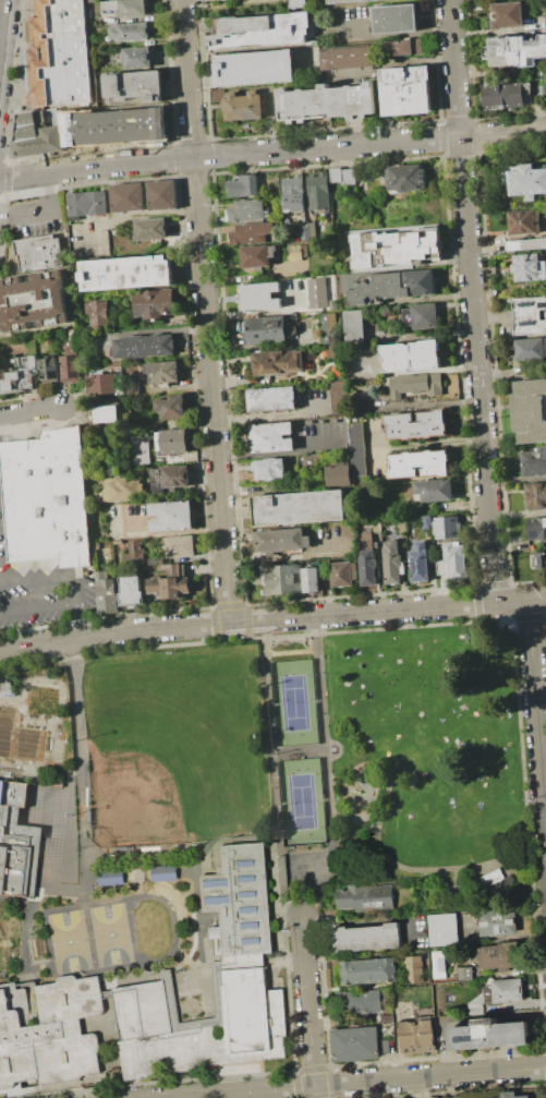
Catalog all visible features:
building: (342, 1)
building: (296, 3)
building: (125, 7)
building: (508, 15)
building: (393, 19)
building: (265, 31)
building: (128, 32)
road: (395, 35)
building: (403, 47)
building: (517, 51)
building: (57, 53)
building: (135, 57)
building: (347, 57)
building: (254, 68)
building: (132, 86)
building: (403, 89)
building: (507, 95)
building: (324, 100)
building: (242, 104)
parking lot: (114, 125)
road: (119, 130)
building: (36, 133)
road: (272, 150)
building: (341, 176)
building: (404, 178)
building: (526, 181)
building: (241, 185)
building: (316, 190)
building: (291, 192)
building: (161, 195)
building: (126, 196)
building: (86, 204)
building: (244, 209)
road: (44, 210)
parking lot: (34, 216)
road: (131, 216)
building: (523, 221)
building: (150, 229)
building: (306, 230)
building: (250, 232)
building: (525, 244)
building: (393, 246)
building: (36, 251)
building: (296, 252)
building: (256, 255)
building: (524, 267)
building: (125, 273)
building: (385, 283)
building: (315, 292)
building: (259, 295)
building: (32, 301)
road: (472, 301)
building: (155, 304)
building: (330, 304)
road: (205, 311)
building: (97, 314)
building: (417, 315)
building: (530, 315)
building: (352, 323)
building: (327, 327)
building: (265, 329)
building: (143, 346)
building: (530, 348)
building: (69, 355)
building: (409, 355)
building: (277, 362)
building: (28, 373)
building: (162, 373)
building: (101, 384)
building: (414, 384)
building: (337, 397)
building: (270, 399)
building: (172, 407)
road: (31, 410)
building: (530, 411)
building: (106, 414)
building: (414, 424)
building: (269, 436)
building: (172, 442)
building: (355, 448)
building: (141, 449)
building: (311, 459)
building: (534, 462)
building: (416, 463)
building: (268, 469)
building: (337, 474)
building: (170, 479)
building: (119, 488)
building: (432, 490)
building: (535, 495)
building: (47, 497)
building: (296, 507)
building: (171, 516)
building: (445, 527)
building: (536, 529)
building: (281, 540)
building: (364, 540)
building: (180, 546)
building: (135, 552)
building: (451, 559)
building: (390, 562)
building: (417, 562)
rooftop solar panel: (415, 566)
building: (366, 567)
building: (341, 574)
road: (68, 577)
building: (279, 579)
building: (308, 579)
building: (170, 583)
parking lot: (41, 587)
building: (131, 591)
building: (105, 592)
road: (537, 599)
road: (512, 601)
road: (39, 610)
road: (246, 622)
building: (7, 687)
park: (292, 702)
road: (536, 714)
road: (325, 739)
park: (178, 746)
road: (77, 759)
road: (275, 762)
park: (400, 763)
road: (404, 773)
park: (301, 800)
building: (16, 843)
road: (326, 864)
road: (422, 868)
building: (163, 872)
building: (110, 877)
building: (493, 877)
building: (363, 897)
road: (368, 919)
building: (498, 922)
building: (442, 930)
park: (110, 933)
building: (367, 937)
park: (69, 940)
building: (496, 954)
building: (235, 964)
building: (437, 964)
building: (414, 969)
building: (367, 970)
building: (464, 972)
building: (507, 989)
building: (362, 1001)
road: (308, 1007)
building: (386, 1017)
building: (48, 1031)
building: (489, 1034)
building: (416, 1036)
building: (354, 1043)
road: (354, 1082)
building: (505, 1094)

